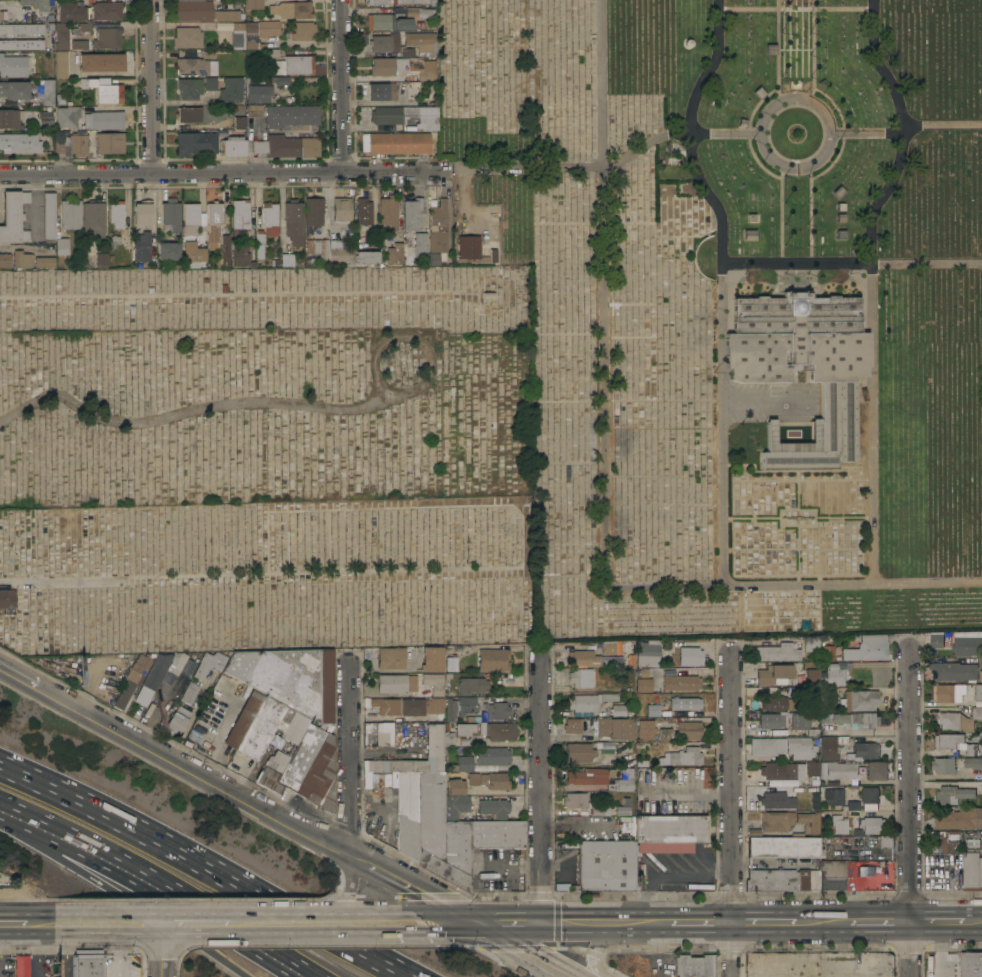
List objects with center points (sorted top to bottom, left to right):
building: (377, 2)
building: (409, 2)
building: (35, 4)
building: (254, 4)
road: (798, 9)
building: (106, 10)
building: (193, 10)
building: (291, 10)
building: (73, 12)
building: (418, 12)
building: (2, 15)
building: (226, 15)
building: (388, 22)
building: (85, 27)
building: (21, 29)
building: (303, 31)
building: (259, 33)
building: (237, 35)
building: (60, 36)
building: (187, 37)
building: (105, 39)
building: (419, 41)
building: (385, 43)
building: (77, 44)
building: (21, 45)
road: (780, 51)
road: (816, 51)
building: (101, 63)
building: (61, 64)
building: (197, 65)
building: (294, 65)
building: (13, 66)
building: (403, 67)
building: (280, 80)
building: (209, 83)
road: (343, 86)
road: (153, 87)
building: (189, 88)
building: (16, 89)
building: (104, 89)
building: (230, 90)
building: (381, 91)
building: (47, 92)
building: (258, 93)
building: (59, 99)
building: (189, 114)
building: (391, 115)
building: (67, 116)
building: (45, 117)
building: (10, 119)
building: (424, 119)
building: (103, 120)
building: (239, 123)
building: (274, 131)
road: (909, 133)
road: (845, 134)
road: (679, 135)
road: (752, 135)
building: (19, 143)
building: (195, 143)
building: (395, 143)
building: (86, 144)
building: (233, 147)
road: (798, 168)
road: (228, 174)
building: (341, 210)
building: (363, 211)
road: (471, 213)
building: (69, 214)
building: (116, 214)
building: (141, 214)
building: (313, 214)
building: (389, 214)
road: (814, 214)
building: (48, 215)
building: (438, 215)
road: (784, 215)
building: (170, 216)
building: (239, 217)
building: (13, 218)
building: (190, 219)
building: (269, 219)
building: (93, 220)
building: (293, 222)
building: (213, 224)
building: (413, 229)
building: (114, 240)
building: (437, 241)
building: (259, 244)
building: (61, 246)
building: (141, 247)
building: (468, 247)
road: (14, 248)
building: (44, 250)
building: (224, 250)
building: (168, 251)
building: (192, 252)
building: (335, 253)
building: (395, 253)
building: (240, 254)
building: (490, 257)
building: (21, 259)
building: (434, 259)
building: (4, 260)
building: (101, 260)
building: (286, 260)
building: (44, 262)
road: (852, 263)
road: (724, 283)
road: (875, 285)
road: (606, 293)
road: (232, 296)
park: (268, 299)
park: (736, 303)
building: (802, 367)
road: (203, 409)
park: (263, 417)
road: (748, 466)
road: (858, 467)
road: (850, 473)
road: (800, 480)
road: (800, 490)
road: (754, 517)
road: (846, 517)
road: (818, 526)
road: (800, 549)
road: (801, 556)
road: (261, 574)
road: (801, 575)
road: (928, 584)
road: (800, 586)
road: (668, 588)
building: (7, 601)
building: (934, 640)
building: (967, 643)
building: (810, 644)
building: (871, 647)
building: (607, 648)
building: (647, 652)
building: (776, 653)
building: (826, 653)
building: (629, 654)
building: (686, 656)
building: (851, 657)
building: (390, 658)
building: (583, 658)
building: (431, 659)
building: (492, 660)
building: (609, 660)
building: (450, 663)
building: (209, 664)
building: (239, 664)
building: (174, 667)
building: (643, 672)
building: (955, 672)
building: (772, 673)
building: (834, 674)
building: (811, 677)
building: (152, 678)
building: (582, 678)
building: (131, 680)
building: (296, 680)
building: (780, 682)
building: (395, 683)
building: (680, 683)
building: (643, 685)
building: (469, 686)
building: (437, 687)
building: (978, 692)
building: (189, 693)
building: (949, 693)
building: (638, 696)
building: (655, 697)
building: (824, 699)
building: (860, 700)
building: (588, 702)
building: (780, 703)
building: (685, 704)
building: (386, 706)
building: (466, 706)
building: (423, 708)
building: (450, 709)
building: (618, 711)
building: (652, 711)
building: (491, 712)
building: (852, 719)
building: (177, 720)
building: (241, 720)
building: (772, 720)
building: (958, 720)
building: (800, 721)
building: (572, 725)
building: (259, 728)
building: (614, 728)
building: (464, 729)
building: (644, 730)
building: (688, 730)
building: (497, 731)
building: (813, 732)
road: (866, 732)
building: (383, 734)
building: (664, 735)
building: (448, 739)
building: (433, 742)
building: (464, 742)
building: (955, 743)
building: (767, 746)
building: (830, 746)
building: (609, 747)
building: (800, 748)
building: (291, 752)
building: (861, 752)
building: (578, 753)
building: (681, 757)
road: (351, 758)
building: (483, 759)
building: (640, 763)
building: (973, 763)
building: (943, 765)
building: (812, 768)
building: (874, 770)
building: (777, 771)
building: (839, 771)
building: (319, 776)
building: (472, 779)
building: (599, 779)
building: (494, 781)
building: (780, 783)
building: (981, 787)
road: (542, 789)
road: (686, 791)
road: (237, 792)
building: (853, 792)
building: (952, 794)
building: (815, 796)
building: (834, 797)
building: (869, 798)
building: (454, 799)
building: (575, 800)
building: (774, 800)
building: (851, 806)
building: (493, 808)
road: (10, 812)
road: (911, 812)
road: (732, 813)
building: (407, 814)
building: (959, 819)
building: (775, 821)
building: (808, 822)
road: (4, 823)
building: (838, 824)
building: (870, 825)
road: (43, 828)
building: (668, 833)
building: (455, 835)
road: (24, 837)
building: (948, 840)
building: (886, 841)
building: (783, 847)
building: (605, 865)
road: (208, 866)
road: (512, 867)
road: (351, 869)
building: (972, 871)
building: (832, 875)
building: (782, 880)
road: (949, 884)
road: (949, 905)
road: (145, 906)
road: (184, 908)
road: (316, 910)
road: (606, 921)
road: (701, 921)
road: (879, 921)
road: (937, 921)
road: (973, 921)
road: (337, 922)
road: (438, 922)
road: (763, 922)
road: (821, 922)
road: (13, 923)
road: (41, 923)
road: (110, 923)
road: (218, 923)
traffic signals: (474, 923)
road: (508, 923)
traffic signals: (543, 923)
road: (656, 949)
road: (38, 950)
road: (64, 950)
road: (163, 950)
road: (522, 950)
building: (971, 964)
building: (23, 965)
building: (88, 965)
building: (694, 966)

